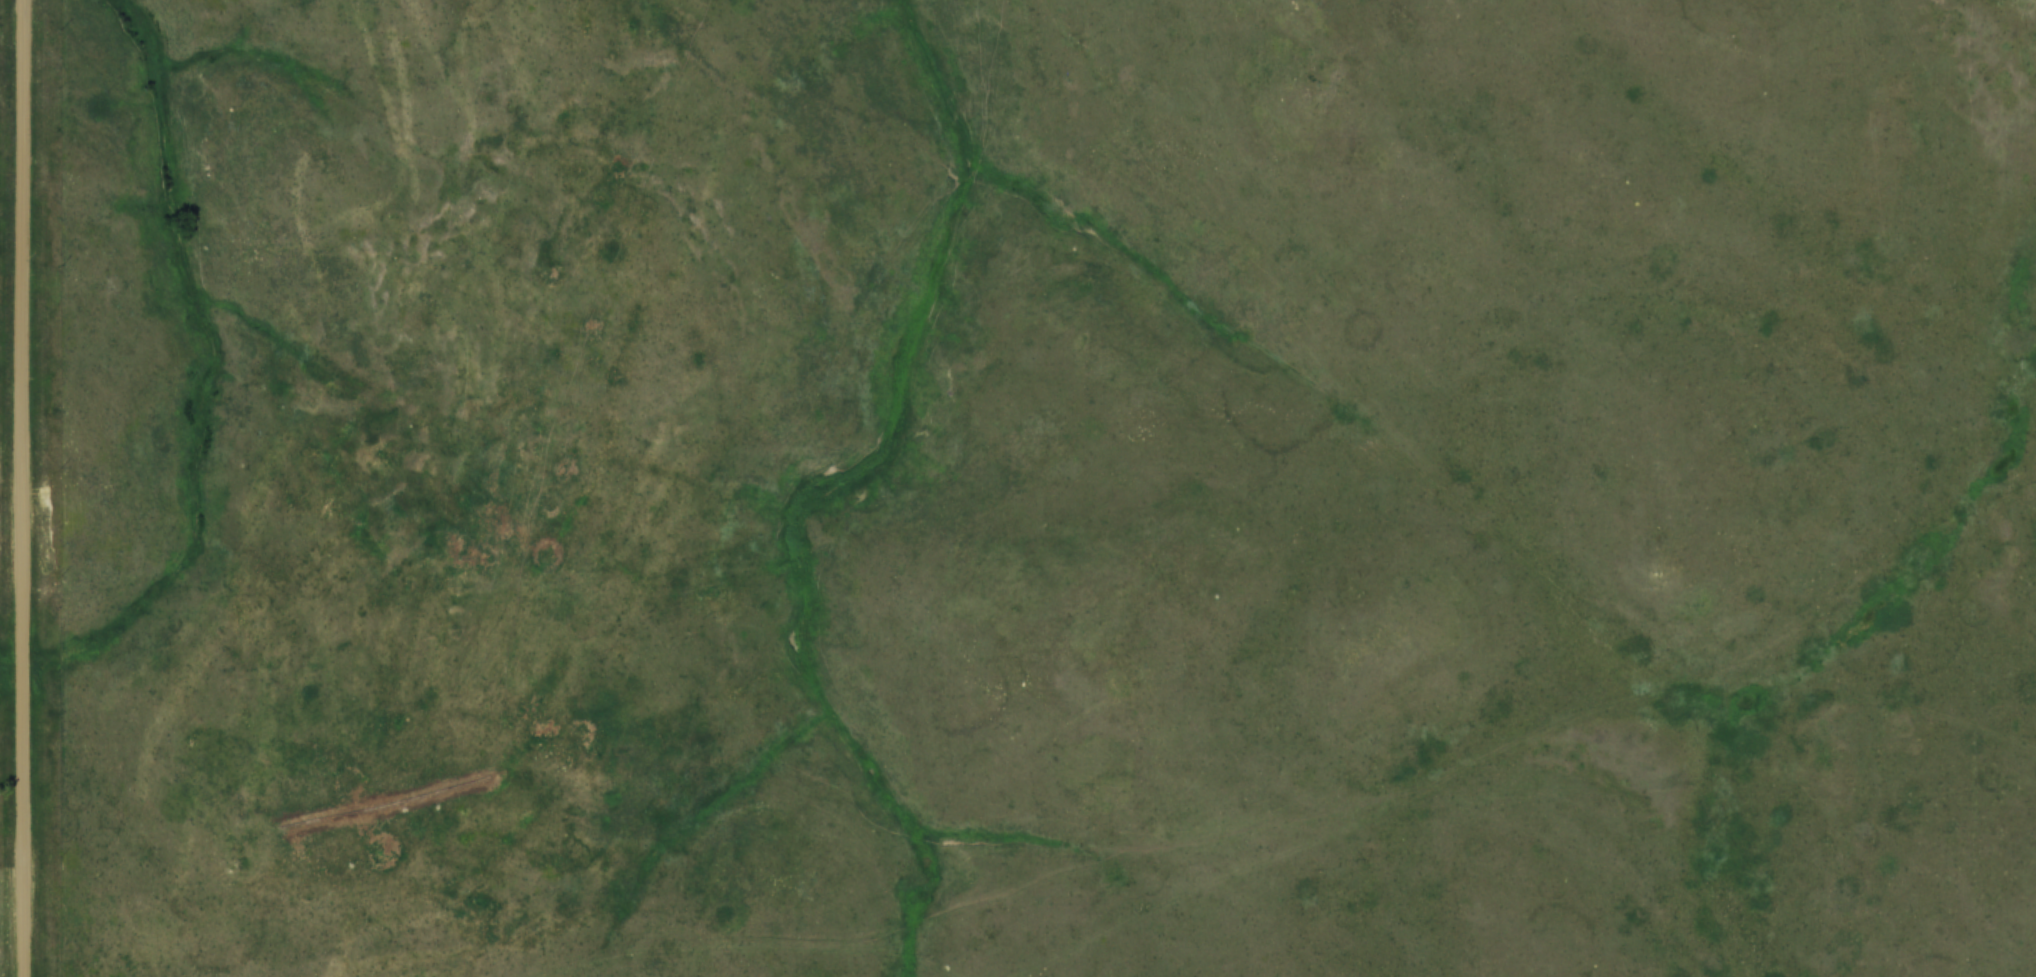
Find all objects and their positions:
road: (28, 488)

